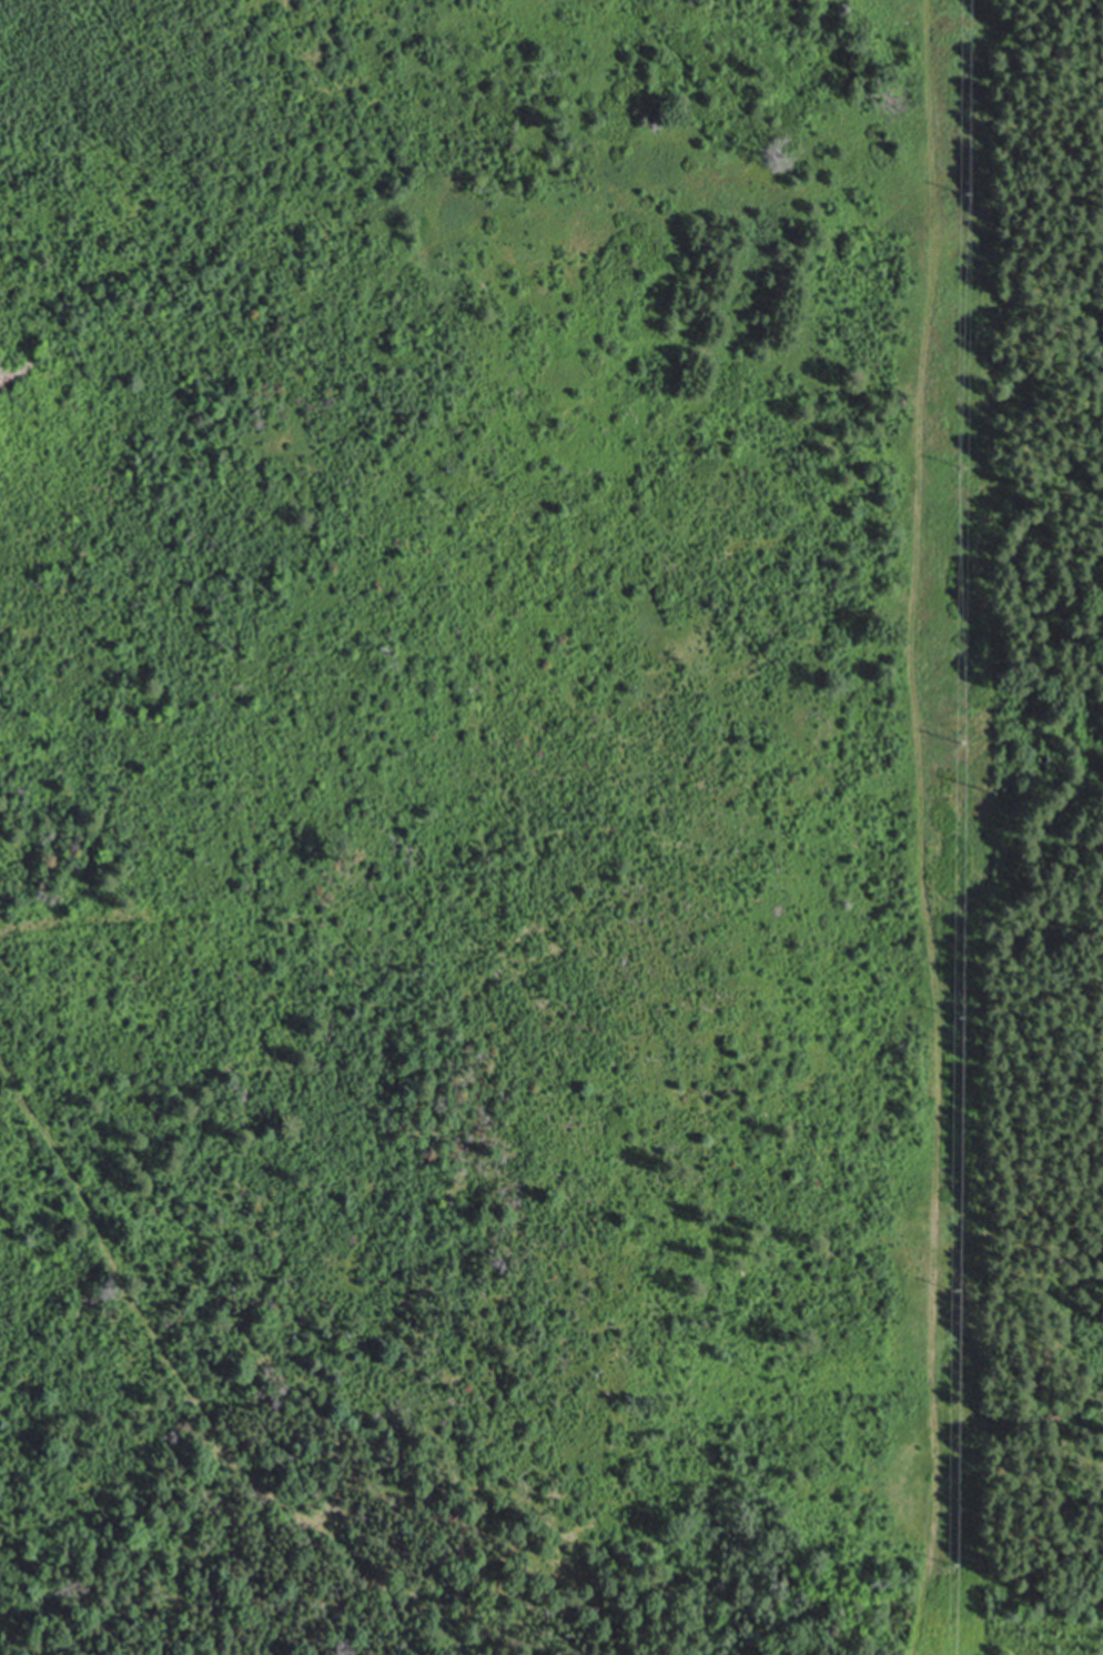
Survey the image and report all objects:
power tower: (968, 738)
road: (923, 828)
power tower: (957, 1017)
power tower: (954, 1294)

